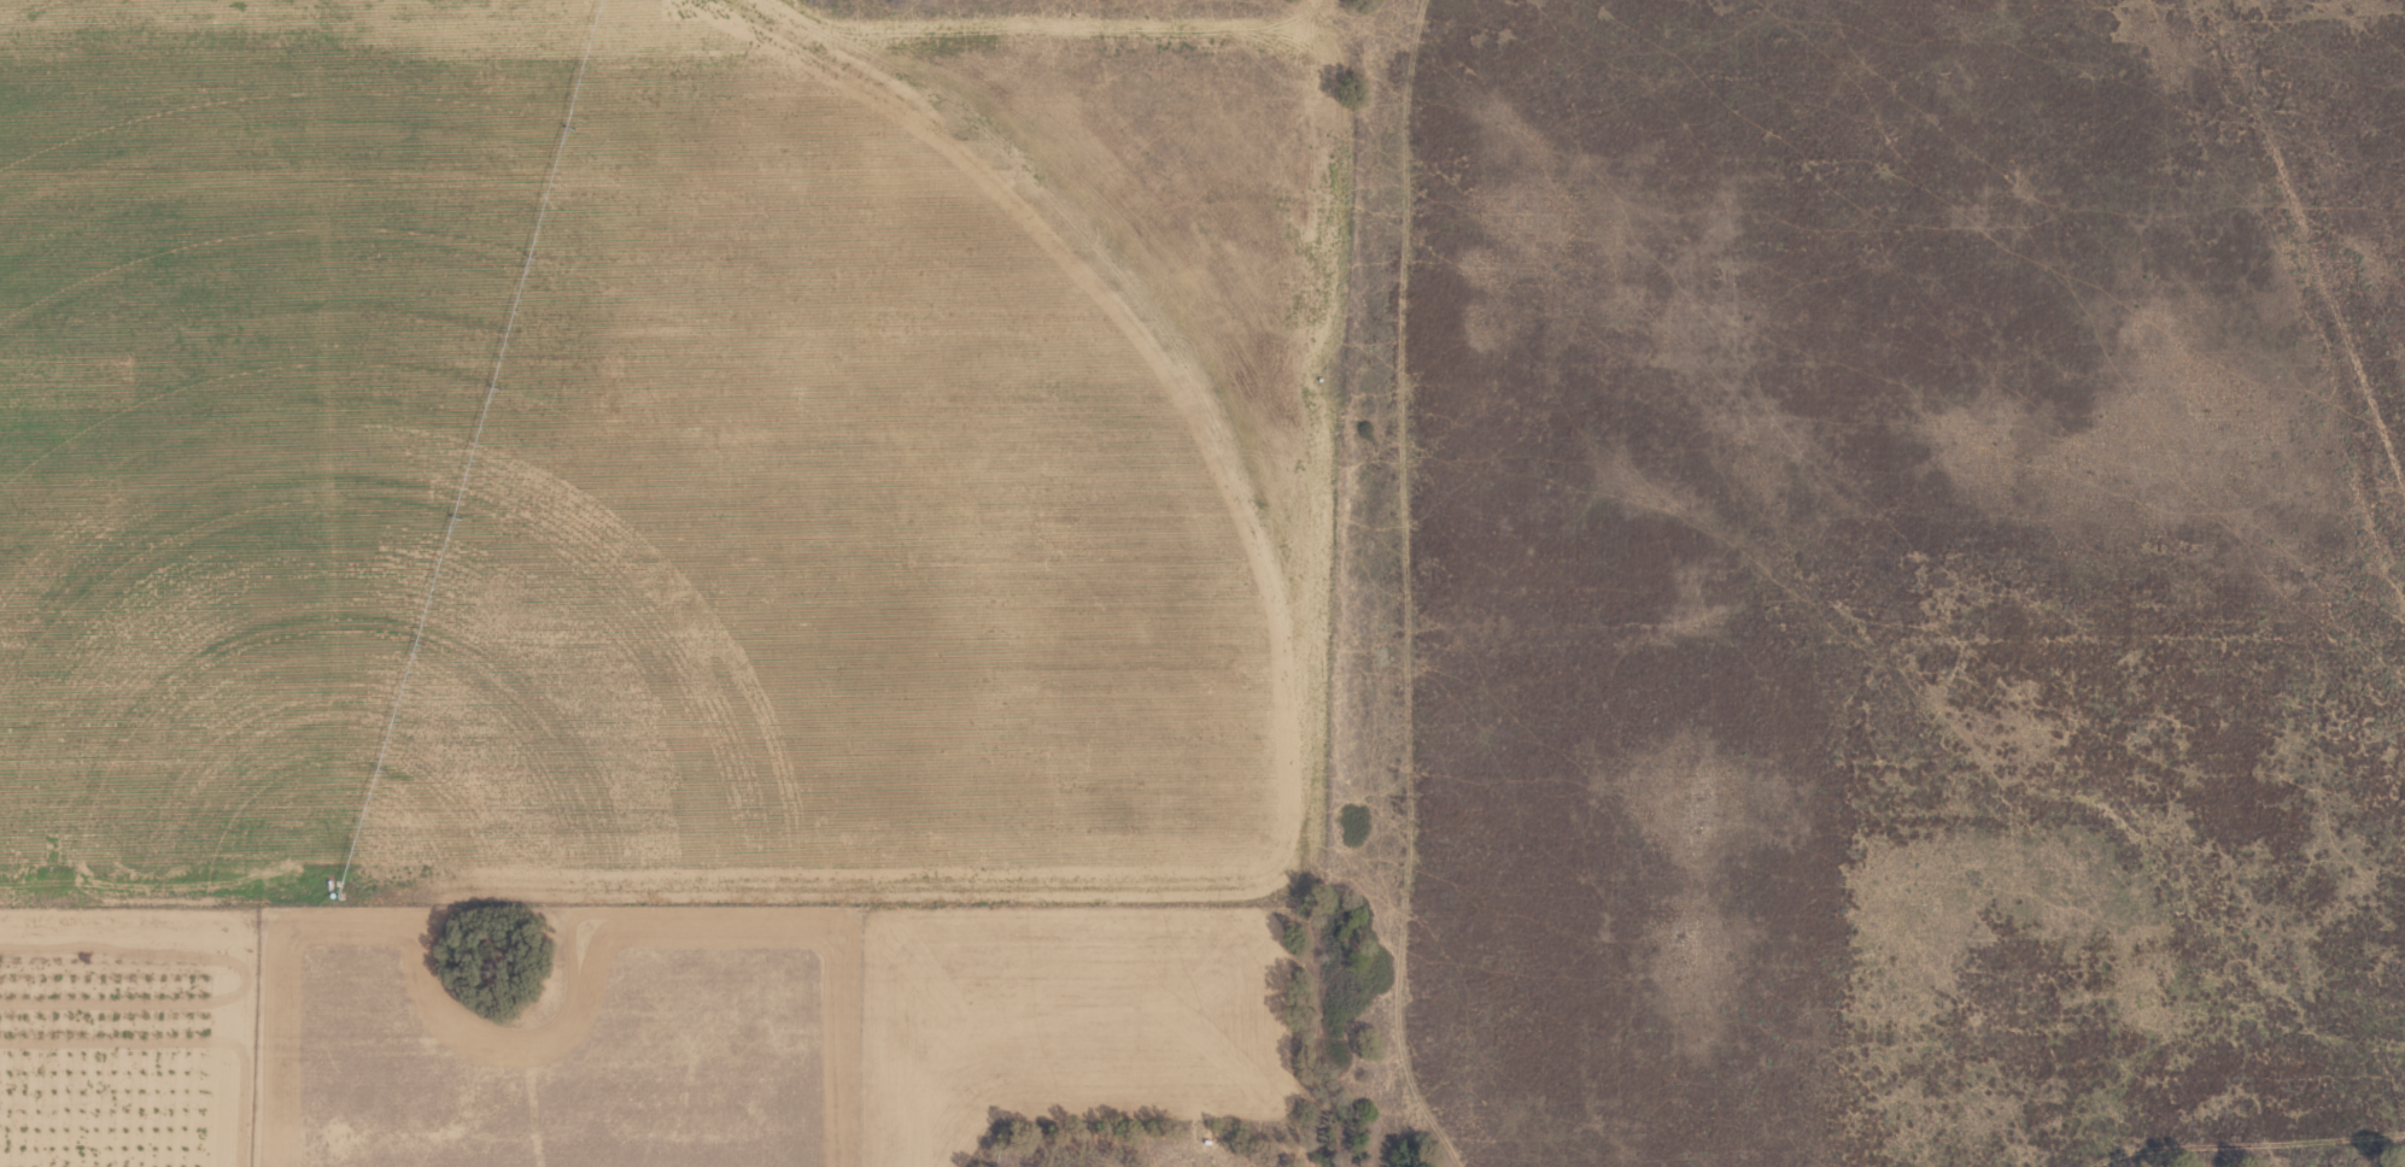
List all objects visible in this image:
railway: (2247, 341)
crop: (1202, 583)

